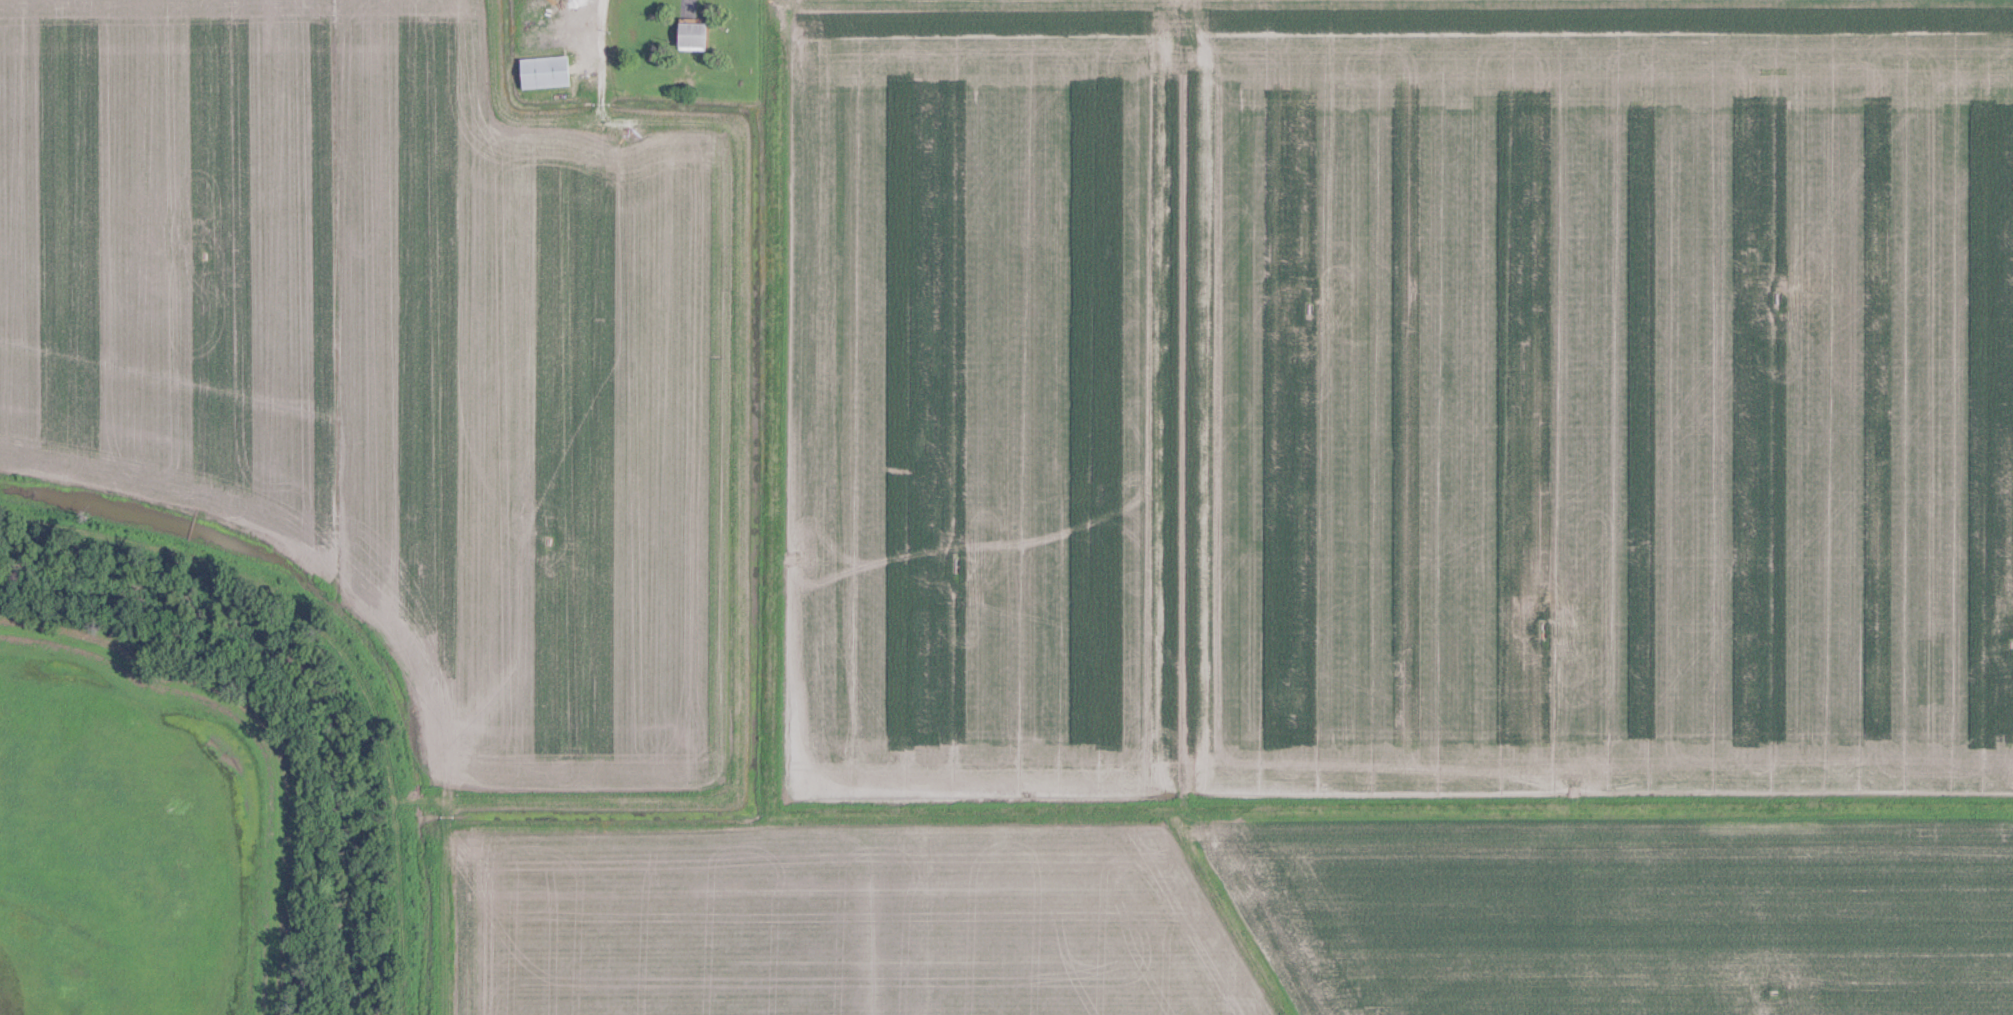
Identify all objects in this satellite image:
road: (599, 26)

